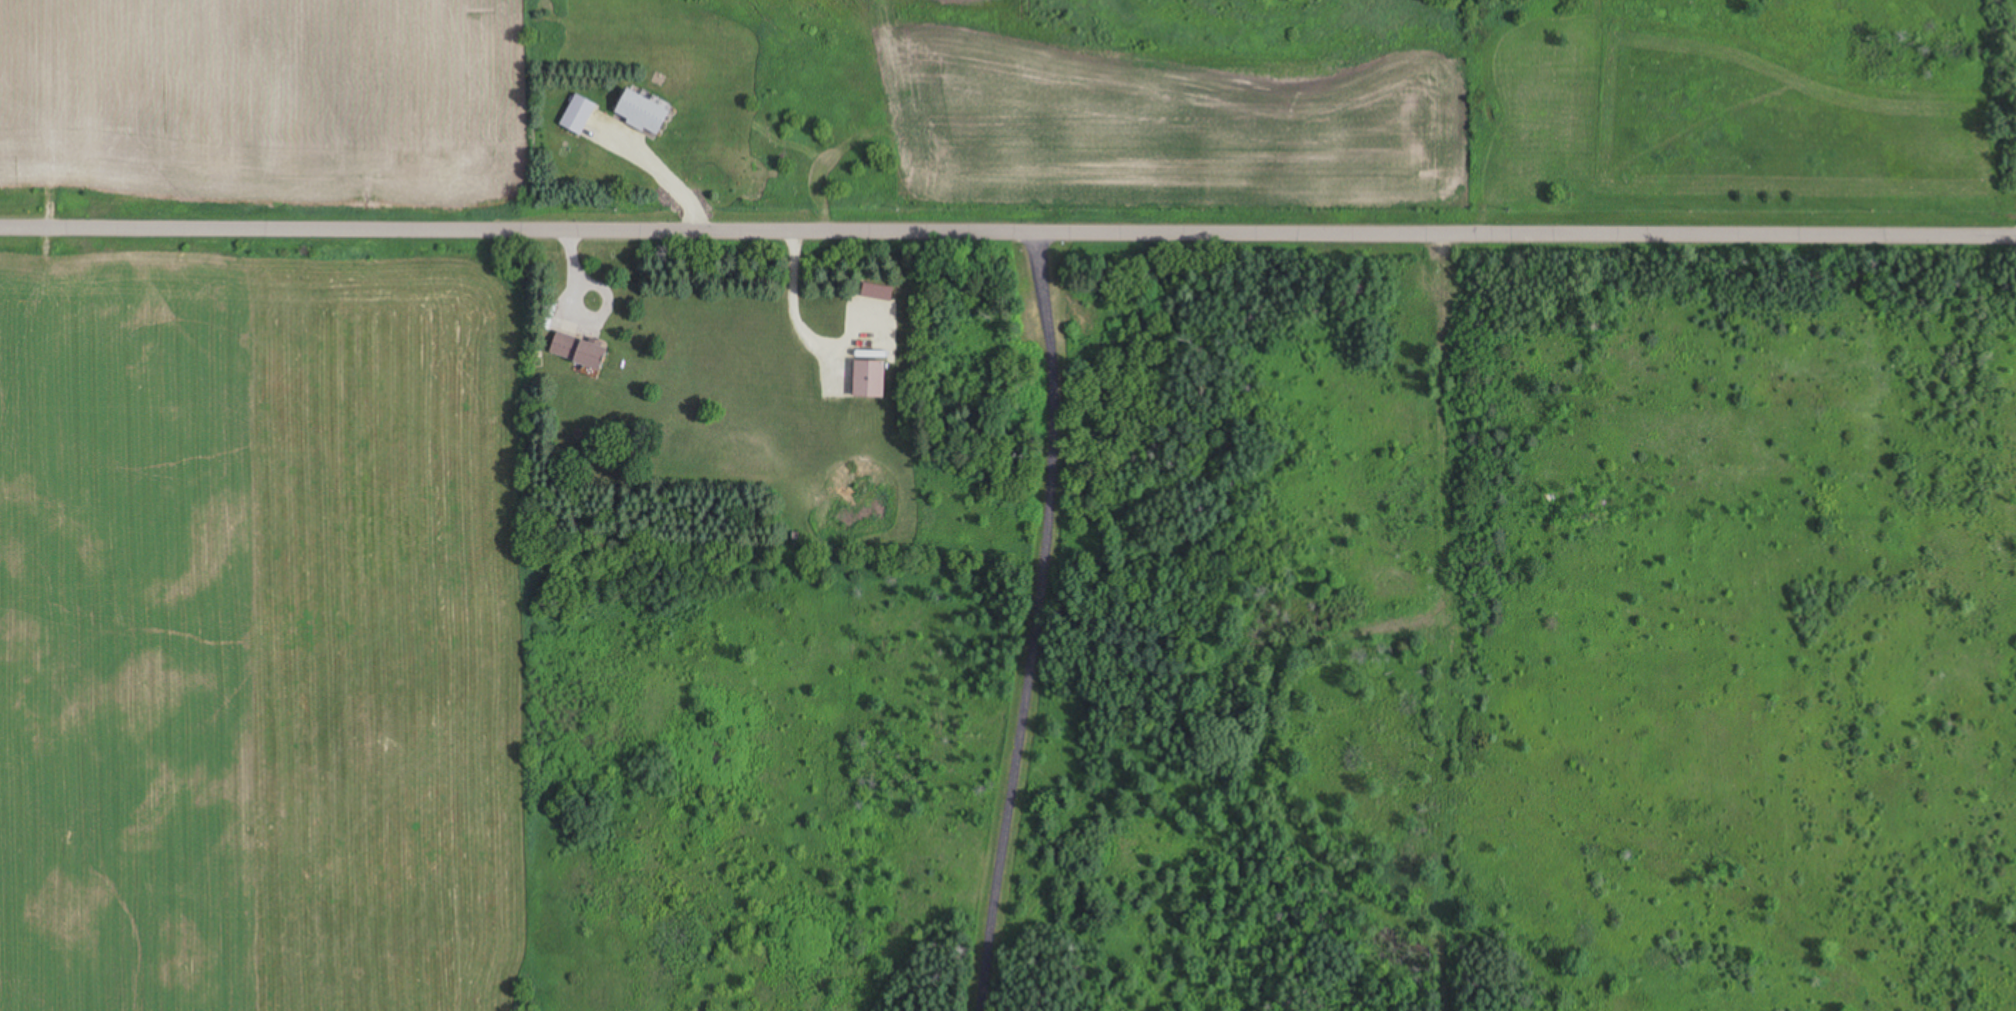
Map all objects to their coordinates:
building: (639, 112)
building: (577, 115)
road: (1007, 223)
building: (577, 351)
building: (867, 379)
road: (1036, 618)

